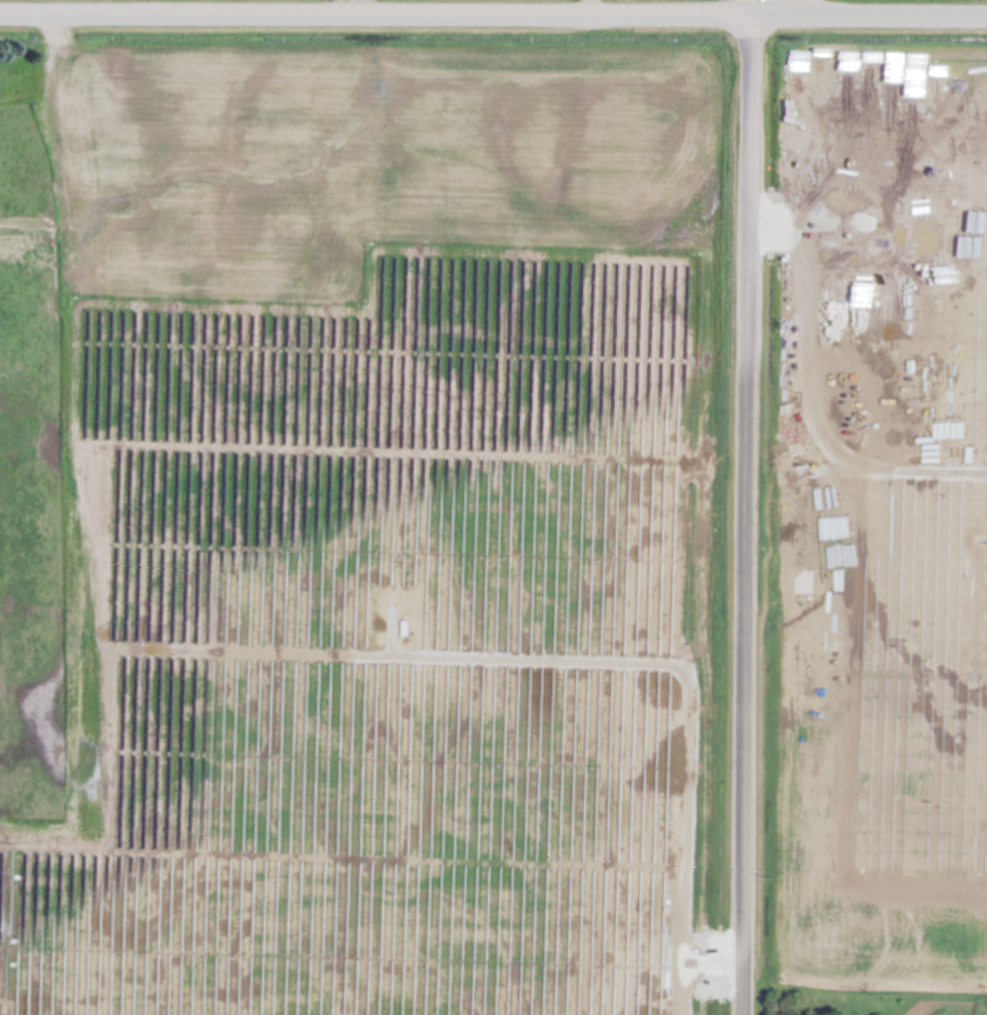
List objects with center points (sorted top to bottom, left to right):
road: (593, 8)
road: (816, 8)
road: (493, 15)
road: (46, 101)
road: (746, 516)
solar farm: (542, 616)

